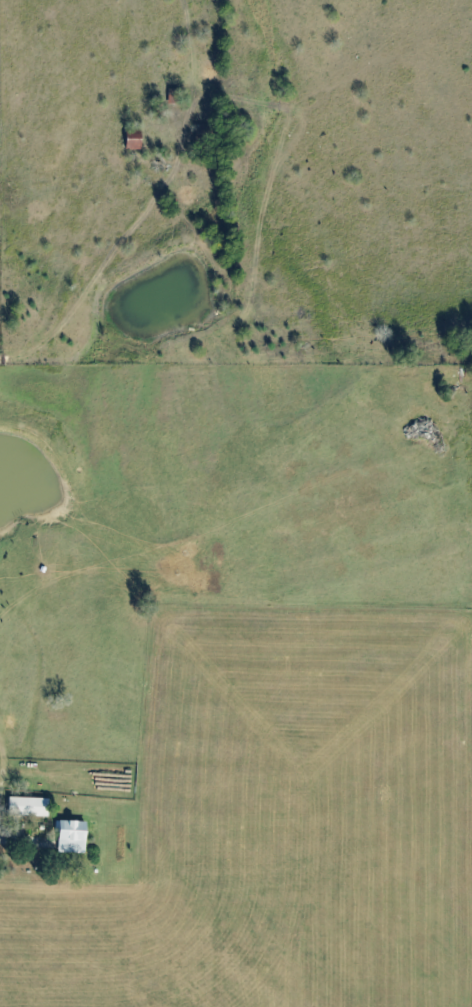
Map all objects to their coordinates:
building: (29, 806)
building: (72, 836)

